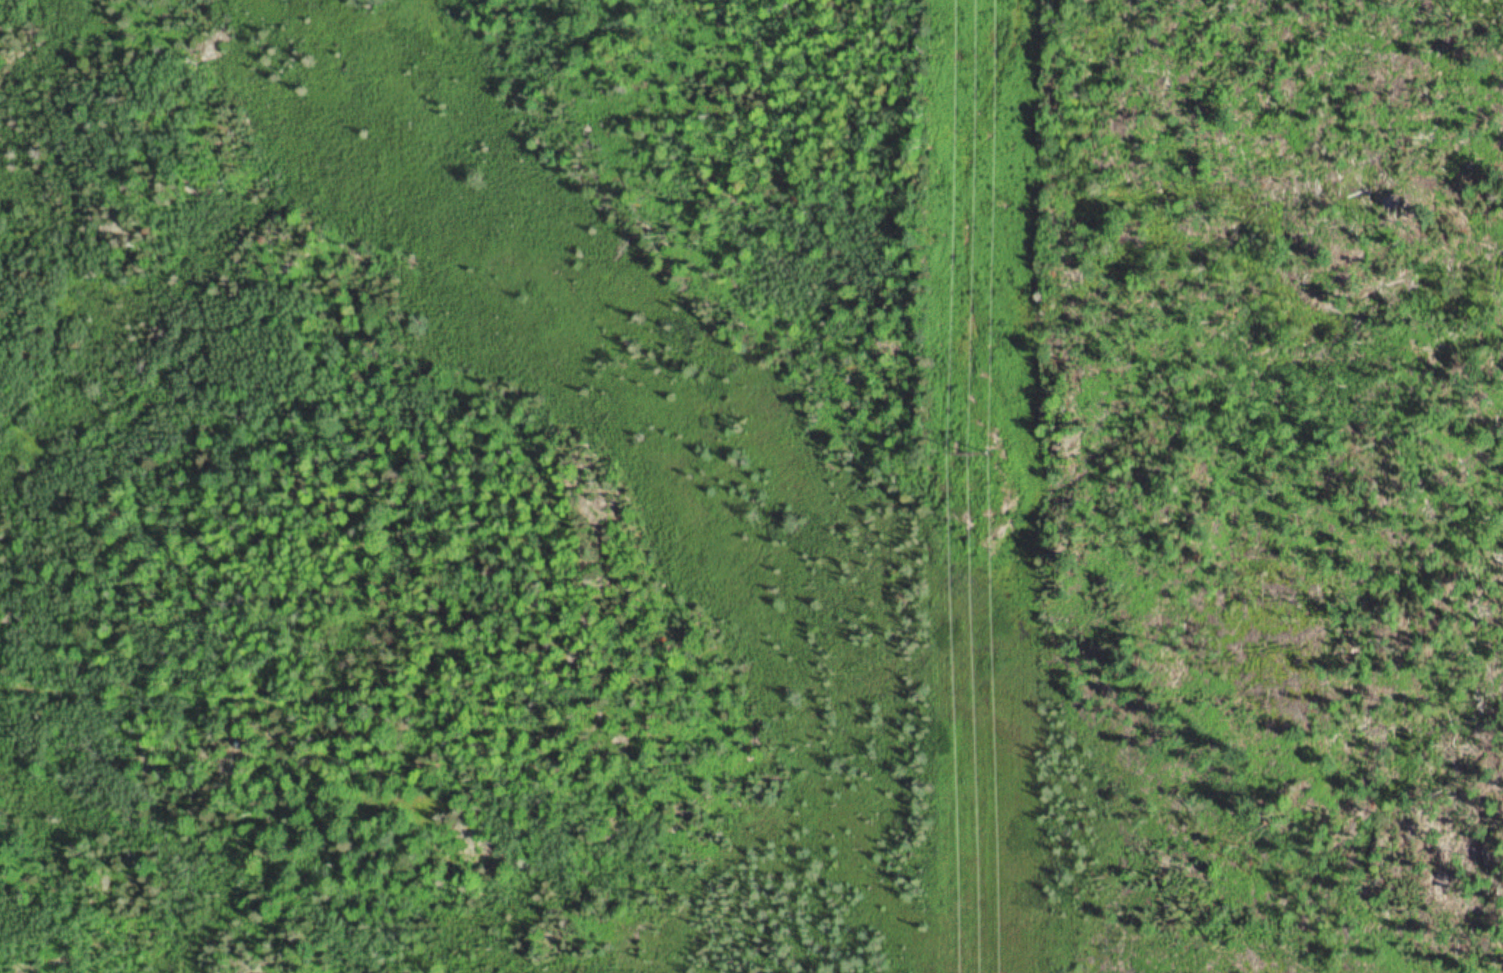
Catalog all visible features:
power tower: (994, 449)

